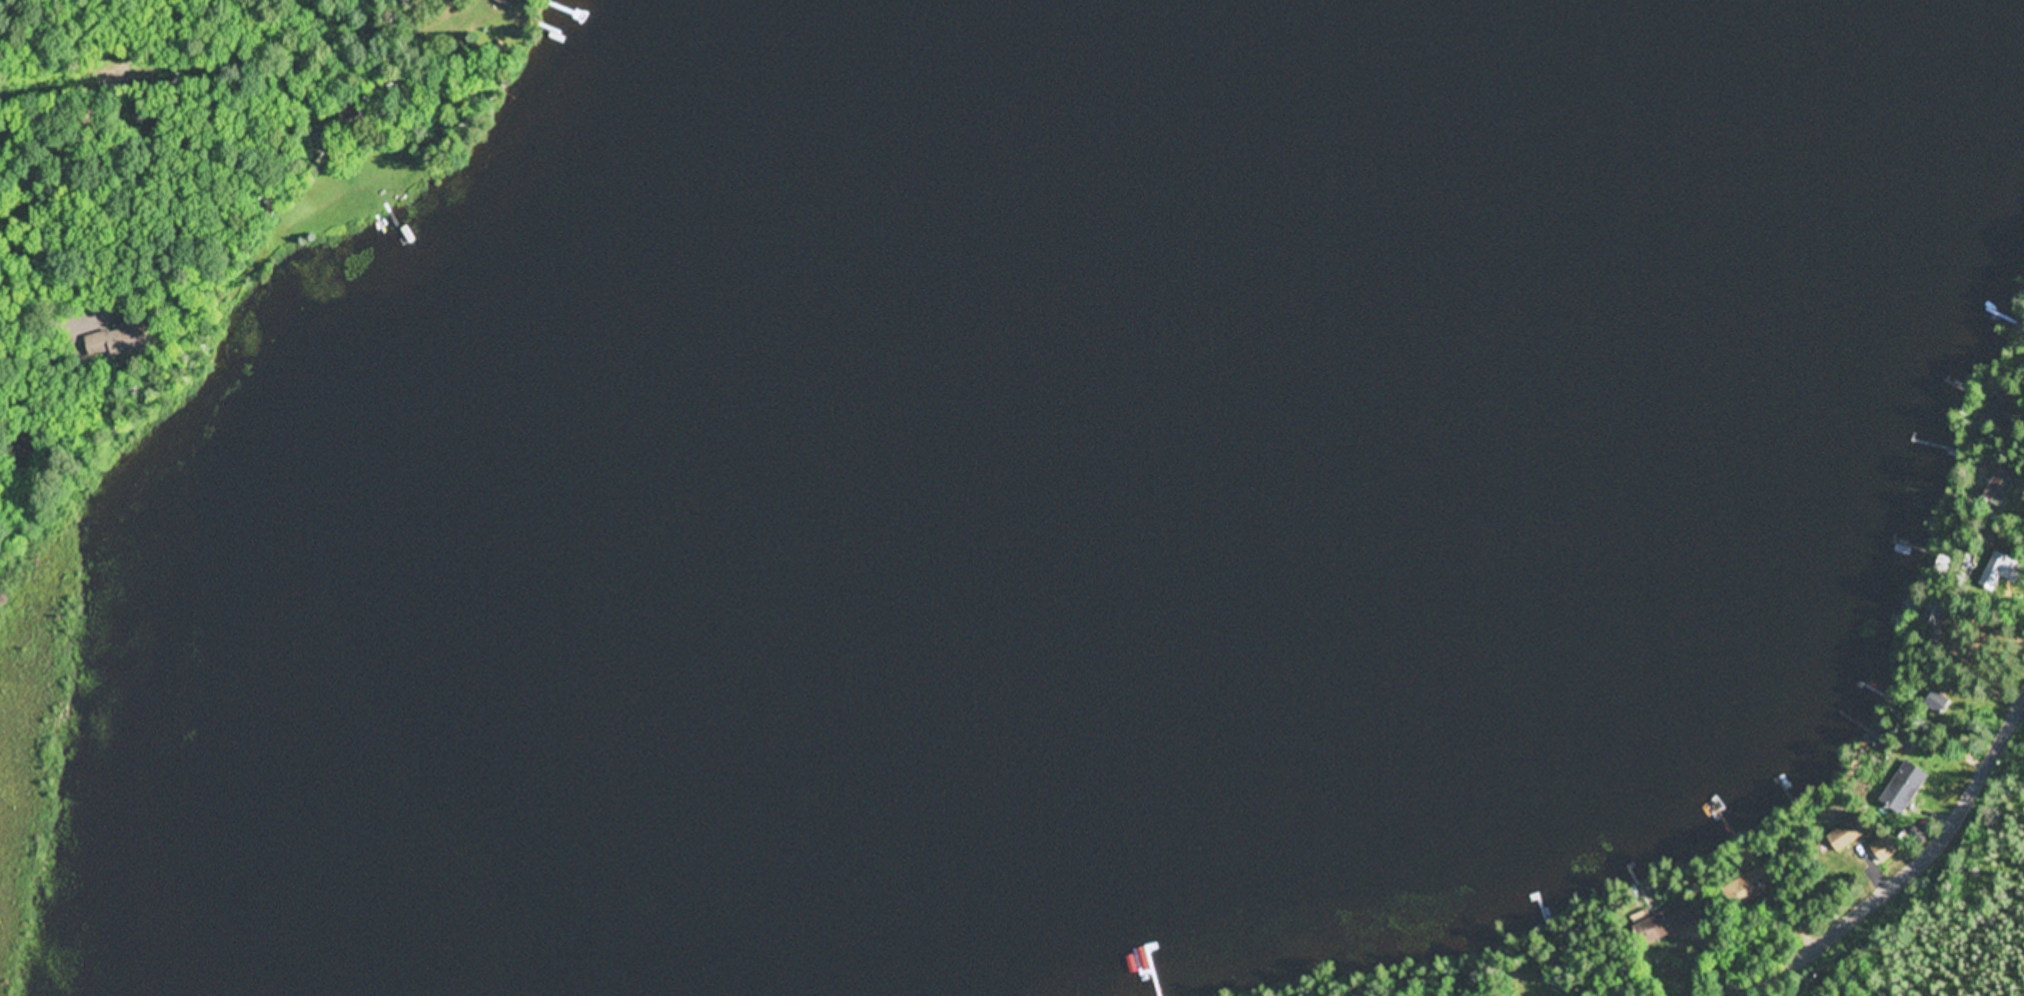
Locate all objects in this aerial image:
road: (106, 113)
road: (114, 239)
building: (1998, 487)
river: (892, 502)
building: (1899, 803)
building: (1845, 834)
building: (1883, 848)
road: (1911, 871)
building: (1651, 929)

